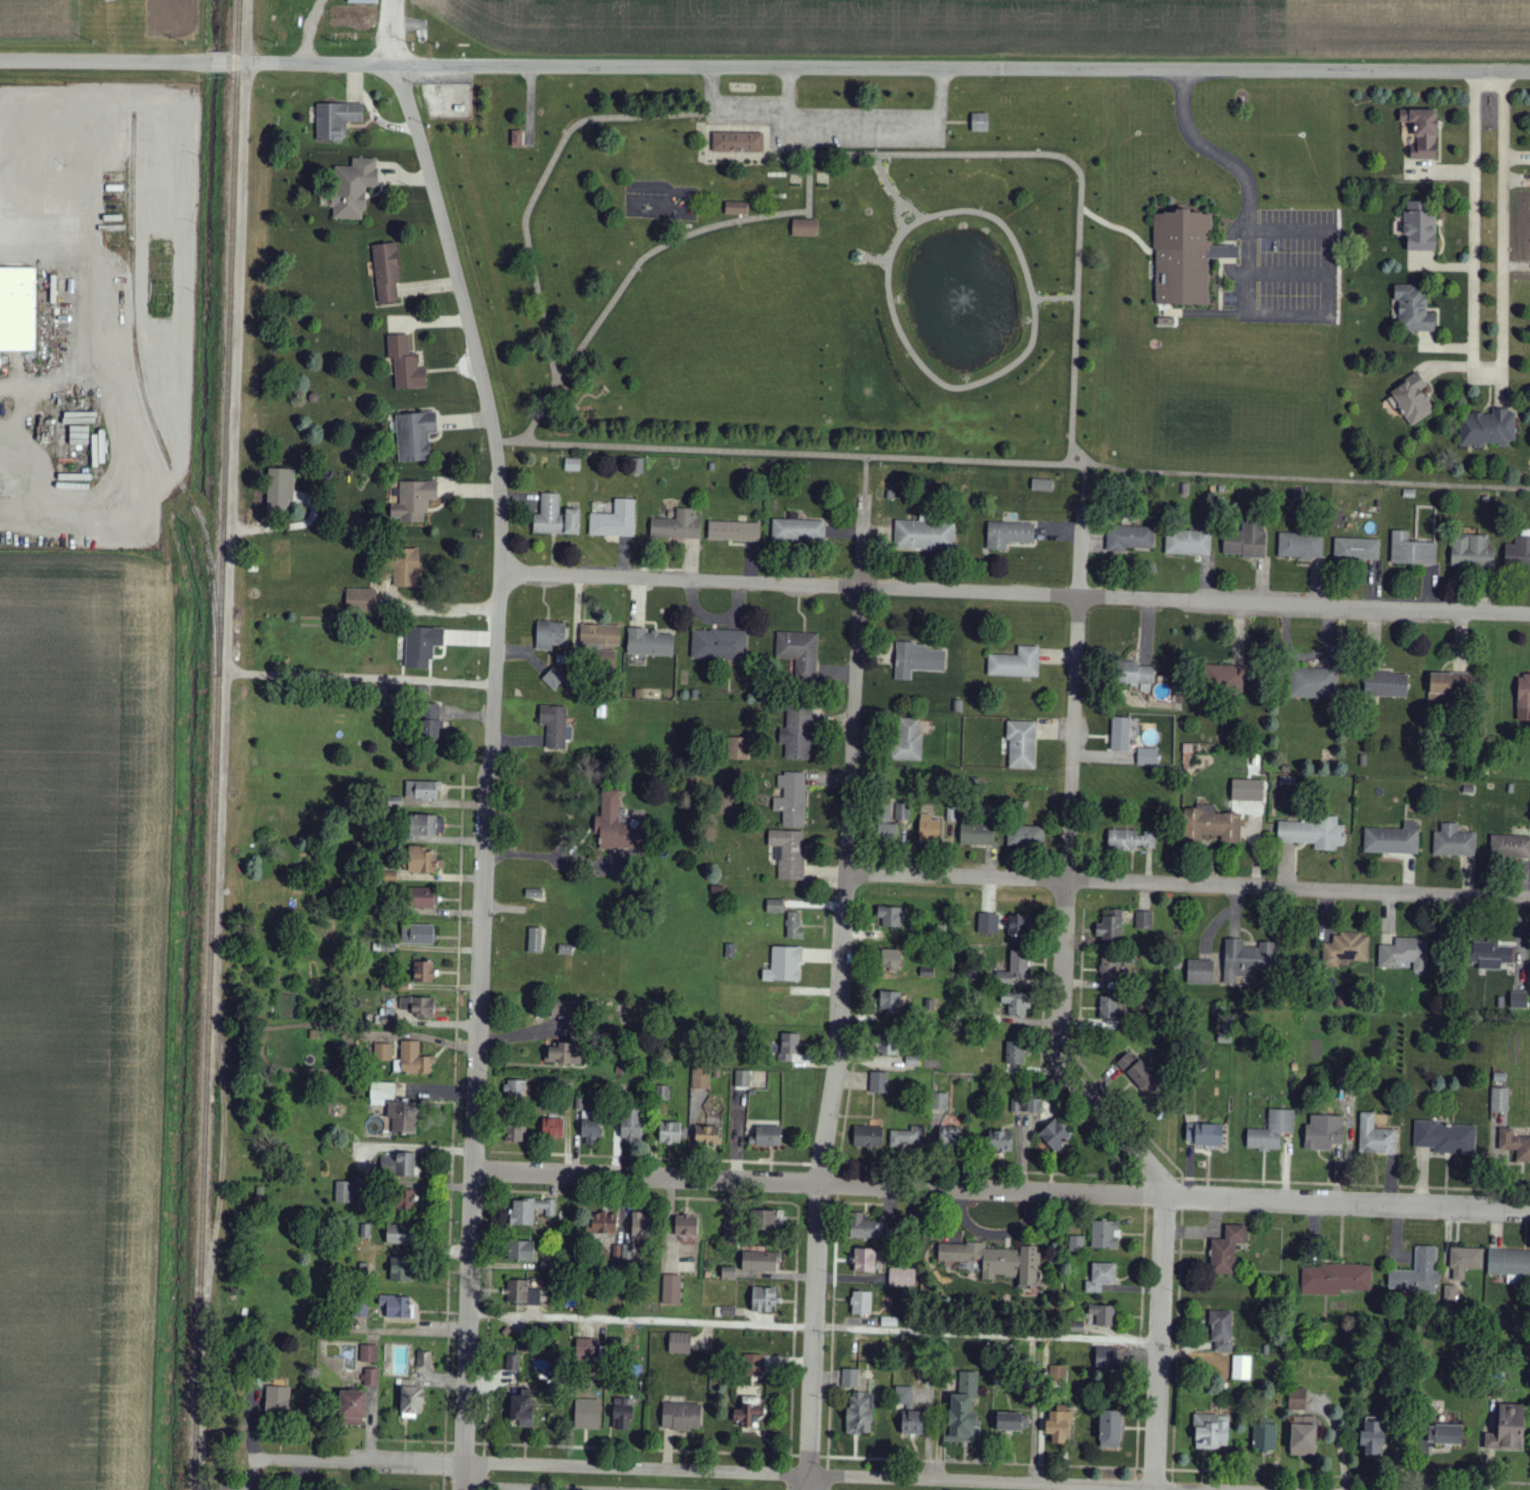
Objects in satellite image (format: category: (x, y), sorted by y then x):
building: (362, 2)
railway: (278, 20)
crop: (874, 27)
crop: (1406, 29)
road: (394, 30)
road: (103, 57)
road: (219, 58)
road: (880, 65)
building: (336, 120)
building: (980, 123)
parking lot: (830, 125)
road: (836, 128)
building: (1422, 133)
building: (518, 139)
building: (737, 142)
road: (1048, 153)
building: (353, 188)
road: (540, 189)
road: (896, 196)
road: (911, 207)
building: (736, 208)
building: (804, 227)
building: (1420, 227)
road: (1118, 228)
road: (1313, 231)
building: (857, 257)
building: (1185, 257)
park: (784, 266)
parking lot: (1283, 266)
building: (386, 272)
road: (1289, 273)
building: (1414, 309)
building: (18, 310)
building: (1165, 322)
road: (594, 328)
road: (1073, 359)
building: (405, 365)
road: (1485, 371)
building: (1412, 400)
railway: (144, 401)
building: (1488, 429)
building: (414, 436)
road: (803, 452)
road: (1080, 453)
building: (572, 465)
road: (863, 474)
road: (1313, 476)
building: (1042, 485)
road: (1080, 486)
building: (280, 491)
building: (414, 501)
building: (556, 518)
road: (231, 520)
building: (615, 521)
building: (678, 526)
building: (798, 531)
building: (734, 532)
building: (925, 535)
building: (1008, 535)
building: (1130, 538)
building: (1246, 541)
building: (1188, 543)
building: (1300, 547)
building: (1356, 550)
building: (1411, 551)
building: (1472, 552)
building: (1518, 554)
building: (406, 569)
road: (1012, 592)
building: (361, 600)
building: (549, 635)
building: (600, 643)
building: (649, 643)
building: (422, 646)
building: (719, 646)
building: (799, 653)
building: (916, 660)
building: (1015, 664)
road: (248, 674)
road: (286, 676)
building: (1136, 676)
building: (1224, 678)
building: (554, 679)
road: (396, 680)
building: (1313, 684)
building: (1449, 684)
building: (1386, 685)
building: (1523, 699)
building: (430, 724)
building: (555, 727)
building: (1120, 734)
building: (797, 735)
building: (908, 739)
railway: (217, 744)
building: (1022, 745)
building: (738, 748)
building: (1147, 757)
road: (488, 769)
building: (422, 790)
building: (1248, 790)
building: (791, 799)
building: (394, 802)
building: (903, 811)
building: (886, 822)
building: (1216, 824)
building: (426, 825)
building: (615, 825)
building: (928, 829)
building: (1312, 832)
building: (977, 834)
building: (1025, 836)
building: (1392, 839)
building: (1132, 840)
building: (1453, 842)
building: (1511, 845)
building: (788, 854)
building: (421, 860)
road: (1065, 871)
building: (387, 877)
road: (1186, 885)
building: (424, 898)
building: (775, 906)
building: (890, 916)
building: (1143, 920)
building: (988, 924)
building: (794, 925)
building: (1110, 926)
building: (1018, 929)
building: (417, 934)
building: (534, 940)
building: (1346, 949)
building: (1405, 954)
building: (1490, 955)
building: (891, 959)
building: (1245, 960)
building: (784, 964)
building: (1014, 969)
building: (424, 971)
building: (1110, 971)
building: (1200, 972)
road: (839, 992)
building: (890, 1000)
building: (1518, 1000)
building: (1016, 1003)
building: (1108, 1006)
building: (419, 1007)
crop: (79, 1009)
building: (561, 1009)
building: (384, 1020)
building: (886, 1044)
building: (789, 1046)
building: (383, 1052)
building: (1015, 1053)
building: (562, 1054)
building: (412, 1060)
building: (1139, 1072)
building: (743, 1078)
building: (701, 1079)
building: (879, 1082)
building: (514, 1089)
building: (381, 1093)
building: (1499, 1100)
building: (940, 1101)
building: (1025, 1105)
building: (403, 1117)
road: (224, 1124)
building: (630, 1125)
building: (552, 1127)
building: (591, 1129)
building: (515, 1131)
building: (1272, 1131)
building: (669, 1132)
building: (1324, 1132)
building: (1204, 1134)
building: (706, 1135)
building: (1055, 1135)
building: (766, 1137)
building: (868, 1137)
building: (950, 1137)
building: (1375, 1137)
building: (1443, 1137)
building: (906, 1138)
building: (1000, 1141)
road: (453, 1143)
building: (1515, 1144)
building: (398, 1165)
road: (1000, 1189)
building: (345, 1192)
building: (405, 1199)
road: (791, 1204)
building: (529, 1211)
building: (766, 1220)
building: (604, 1223)
building: (863, 1226)
building: (640, 1228)
building: (686, 1228)
building: (399, 1234)
building: (1105, 1235)
building: (1077, 1242)
building: (1226, 1250)
building: (521, 1251)
building: (865, 1260)
building: (760, 1261)
building: (998, 1261)
building: (1465, 1262)
building: (400, 1269)
building: (729, 1273)
building: (1418, 1273)
building: (902, 1277)
building: (1101, 1277)
building: (1335, 1280)
building: (671, 1289)
building: (523, 1294)
building: (1450, 1294)
building: (763, 1299)
building: (861, 1303)
building: (397, 1306)
building: (1103, 1315)
road: (812, 1323)
building: (1221, 1330)
road: (1158, 1342)
building: (680, 1343)
building: (585, 1350)
building: (368, 1353)
building: (1106, 1358)
building: (424, 1360)
building: (513, 1363)
building: (542, 1365)
building: (753, 1365)
building: (1241, 1367)
building: (1058, 1374)
road: (206, 1376)
building: (371, 1377)
building: (850, 1378)
building: (1297, 1399)
building: (277, 1400)
building: (411, 1402)
building: (352, 1408)
building: (520, 1409)
building: (909, 1411)
building: (963, 1411)
building: (860, 1413)
building: (587, 1414)
building: (622, 1414)
building: (747, 1415)
building: (681, 1417)
building: (1013, 1421)
building: (1059, 1424)
building: (1110, 1429)
building: (1508, 1429)
building: (1211, 1432)
building: (1445, 1435)
building: (1304, 1436)
building: (1265, 1437)
building: (1373, 1439)
road: (449, 1443)
road: (463, 1444)
road: (445, 1447)
road: (485, 1450)
road: (332, 1460)
road: (445, 1464)
road: (485, 1472)
road: (821, 1474)
road: (444, 1483)
road: (486, 1489)

